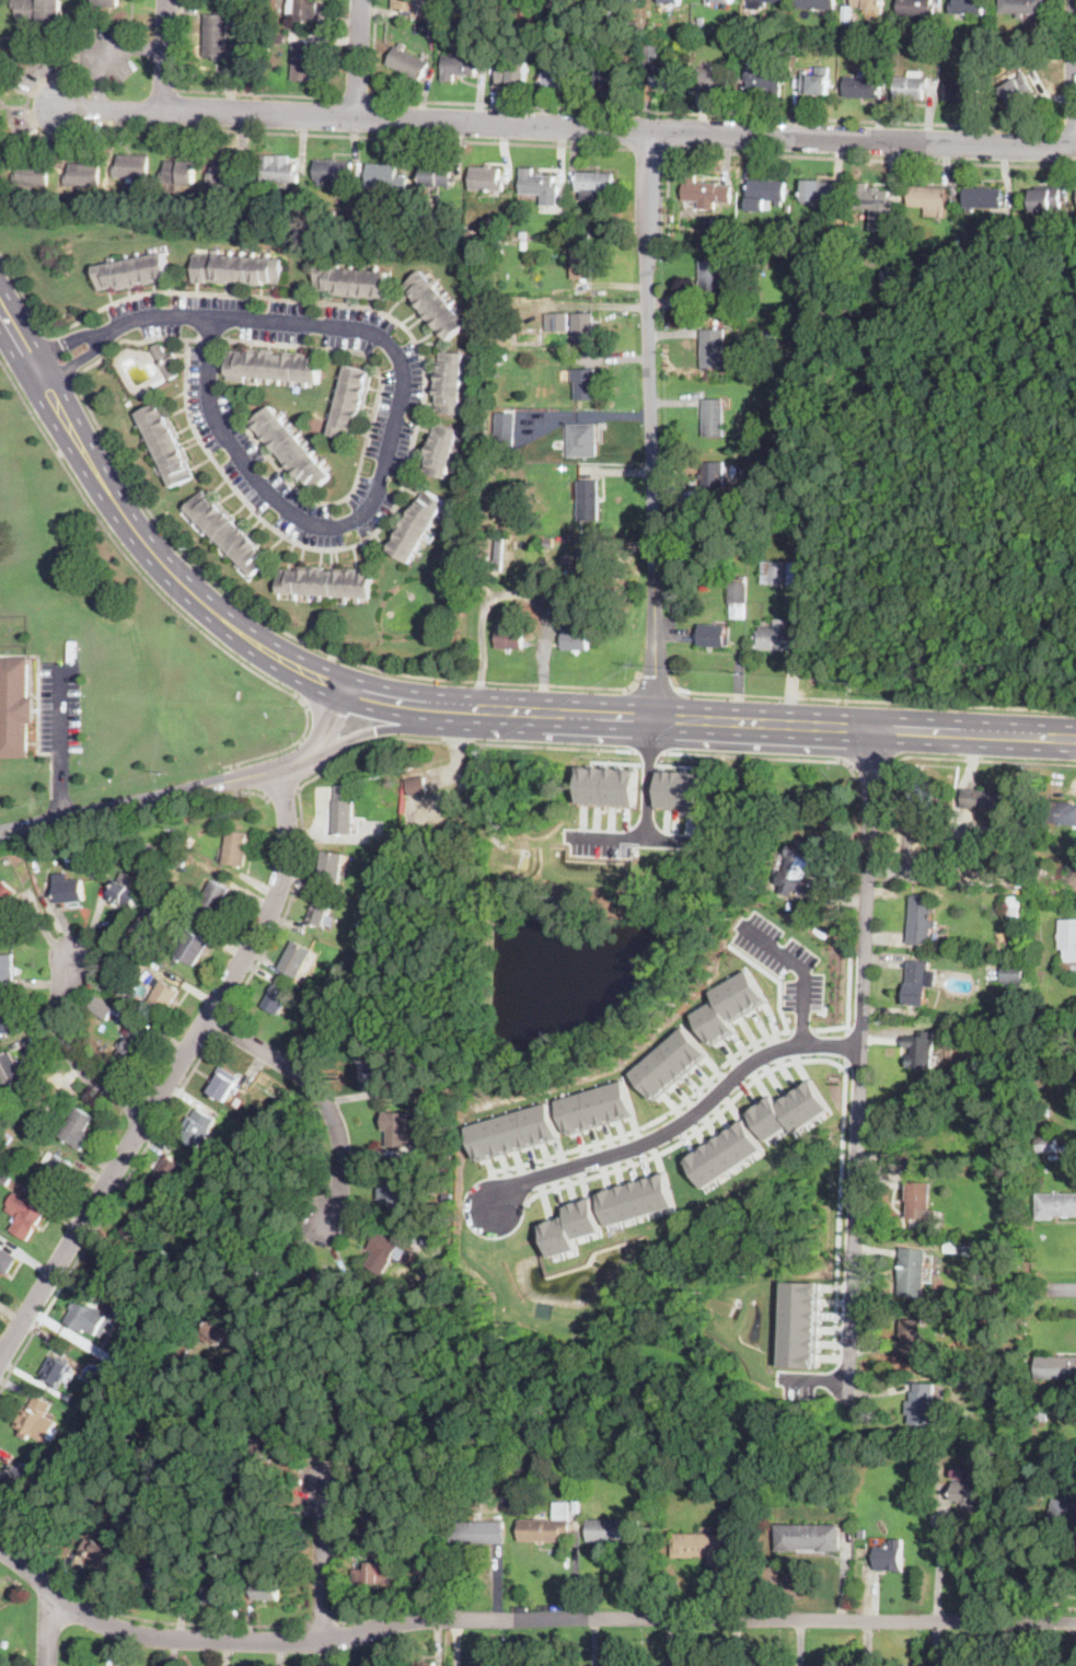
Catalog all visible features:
building: (720, 0)
building: (671, 1)
building: (106, 2)
building: (559, 2)
building: (763, 3)
building: (868, 3)
building: (406, 4)
building: (817, 4)
building: (967, 7)
building: (1021, 7)
building: (916, 8)
building: (38, 10)
building: (303, 10)
building: (846, 13)
building: (602, 15)
building: (701, 21)
building: (420, 27)
building: (432, 31)
building: (216, 35)
building: (864, 36)
building: (783, 47)
road: (103, 48)
road: (374, 49)
road: (164, 54)
road: (359, 59)
building: (408, 61)
building: (303, 62)
road: (1072, 62)
building: (459, 63)
building: (661, 68)
building: (511, 73)
building: (609, 74)
building: (560, 76)
building: (764, 77)
building: (714, 78)
building: (815, 81)
building: (864, 85)
building: (911, 85)
building: (1017, 88)
building: (962, 89)
road: (216, 92)
road: (357, 99)
road: (717, 114)
road: (1068, 126)
road: (563, 127)
road: (289, 134)
road: (649, 148)
road: (820, 157)
building: (131, 165)
building: (266, 167)
building: (284, 170)
building: (333, 171)
building: (177, 172)
building: (227, 173)
building: (32, 174)
building: (83, 174)
building: (382, 175)
building: (436, 175)
building: (486, 178)
building: (593, 183)
building: (540, 185)
building: (817, 189)
building: (705, 192)
building: (765, 193)
building: (982, 197)
building: (929, 199)
building: (1046, 200)
building: (875, 206)
building: (265, 208)
building: (310, 216)
building: (322, 218)
building: (385, 220)
building: (404, 220)
building: (416, 220)
building: (442, 220)
building: (458, 222)
building: (709, 223)
building: (487, 232)
building: (521, 234)
building: (990, 242)
building: (750, 262)
building: (581, 264)
building: (236, 267)
building: (132, 270)
building: (351, 280)
building: (710, 281)
road: (23, 292)
building: (741, 303)
building: (435, 304)
building: (557, 322)
building: (583, 327)
building: (770, 333)
road: (210, 338)
road: (129, 339)
road: (65, 342)
road: (22, 343)
building: (714, 347)
building: (815, 349)
building: (500, 355)
road: (57, 356)
road: (76, 359)
building: (166, 359)
building: (275, 365)
building: (522, 380)
building: (450, 381)
building: (585, 382)
building: (350, 401)
road: (420, 410)
building: (774, 410)
building: (713, 417)
road: (648, 425)
building: (506, 428)
road: (391, 432)
road: (367, 436)
building: (583, 440)
building: (165, 442)
building: (290, 447)
building: (441, 449)
building: (714, 473)
building: (514, 485)
building: (588, 500)
building: (416, 524)
building: (229, 531)
building: (808, 531)
building: (499, 554)
road: (159, 560)
building: (588, 560)
building: (778, 572)
building: (326, 581)
road: (514, 592)
building: (737, 592)
road: (166, 599)
building: (559, 606)
building: (713, 635)
building: (509, 636)
building: (778, 637)
road: (300, 638)
building: (576, 639)
road: (320, 678)
road: (656, 680)
road: (343, 689)
road: (870, 698)
road: (393, 702)
parking lot: (59, 705)
building: (14, 707)
road: (452, 708)
road: (61, 709)
road: (322, 718)
road: (671, 718)
road: (337, 727)
road: (382, 730)
road: (975, 733)
road: (649, 752)
road: (314, 754)
road: (757, 754)
road: (976, 757)
road: (343, 760)
road: (869, 760)
road: (648, 778)
road: (239, 779)
building: (609, 784)
building: (416, 785)
road: (62, 786)
building: (680, 789)
road: (284, 790)
road: (250, 792)
road: (158, 797)
building: (923, 797)
building: (986, 800)
building: (342, 810)
building: (1057, 811)
building: (413, 821)
road: (625, 837)
building: (188, 842)
building: (235, 847)
building: (148, 848)
building: (102, 854)
building: (400, 859)
building: (178, 861)
building: (34, 864)
building: (1041, 865)
building: (329, 867)
building: (795, 868)
building: (939, 868)
building: (986, 868)
building: (95, 872)
building: (46, 886)
building: (68, 890)
building: (123, 893)
building: (5, 898)
building: (152, 900)
building: (215, 901)
building: (1014, 902)
building: (369, 909)
building: (148, 910)
building: (320, 913)
building: (921, 918)
building: (142, 921)
building: (357, 927)
building: (1067, 938)
building: (190, 946)
building: (126, 953)
building: (297, 959)
building: (7, 967)
road: (801, 968)
building: (1015, 975)
road: (773, 976)
building: (918, 982)
building: (164, 995)
building: (278, 997)
road: (847, 1003)
building: (729, 1005)
building: (101, 1007)
building: (8, 1019)
road: (221, 1026)
road: (801, 1030)
road: (847, 1042)
building: (132, 1045)
building: (919, 1049)
road: (72, 1052)
building: (669, 1061)
road: (858, 1065)
building: (10, 1071)
building: (372, 1072)
road: (173, 1074)
building: (223, 1083)
building: (269, 1084)
building: (427, 1088)
road: (320, 1094)
building: (432, 1099)
building: (0, 1100)
building: (597, 1107)
building: (28, 1108)
building: (790, 1110)
building: (1044, 1111)
road: (681, 1120)
road: (651, 1121)
building: (197, 1126)
building: (77, 1129)
building: (400, 1130)
building: (12, 1131)
building: (513, 1131)
road: (691, 1133)
building: (7, 1138)
building: (251, 1138)
building: (1048, 1144)
building: (725, 1152)
building: (449, 1156)
building: (54, 1172)
building: (169, 1172)
building: (4, 1179)
building: (392, 1194)
building: (637, 1199)
building: (919, 1201)
building: (1055, 1205)
road: (838, 1208)
building: (25, 1212)
road: (105, 1215)
building: (139, 1222)
building: (571, 1226)
building: (432, 1240)
building: (968, 1249)
building: (382, 1253)
road: (288, 1258)
building: (7, 1260)
building: (108, 1268)
building: (912, 1272)
building: (323, 1283)
road: (1062, 1289)
building: (89, 1317)
building: (800, 1322)
building: (217, 1330)
building: (910, 1338)
building: (184, 1347)
building: (130, 1356)
building: (1056, 1367)
building: (55, 1370)
building: (957, 1380)
building: (921, 1404)
building: (305, 1413)
building: (1041, 1413)
building: (37, 1420)
building: (357, 1425)
building: (79, 1430)
building: (259, 1445)
building: (271, 1446)
building: (616, 1453)
building: (529, 1458)
building: (1025, 1467)
building: (387, 1471)
building: (959, 1471)
building: (15, 1477)
building: (968, 1492)
building: (244, 1493)
building: (830, 1503)
building: (1063, 1513)
building: (378, 1518)
building: (547, 1526)
building: (614, 1530)
building: (477, 1531)
building: (861, 1532)
building: (808, 1537)
building: (702, 1546)
building: (440, 1549)
building: (101, 1553)
road: (939, 1554)
building: (270, 1555)
building: (889, 1557)
road: (323, 1562)
building: (371, 1572)
building: (161, 1573)
building: (215, 1585)
building: (273, 1588)
building: (258, 1589)
road: (387, 1610)
road: (522, 1612)
road: (176, 1622)
road: (324, 1625)
road: (46, 1630)
building: (421, 1663)

